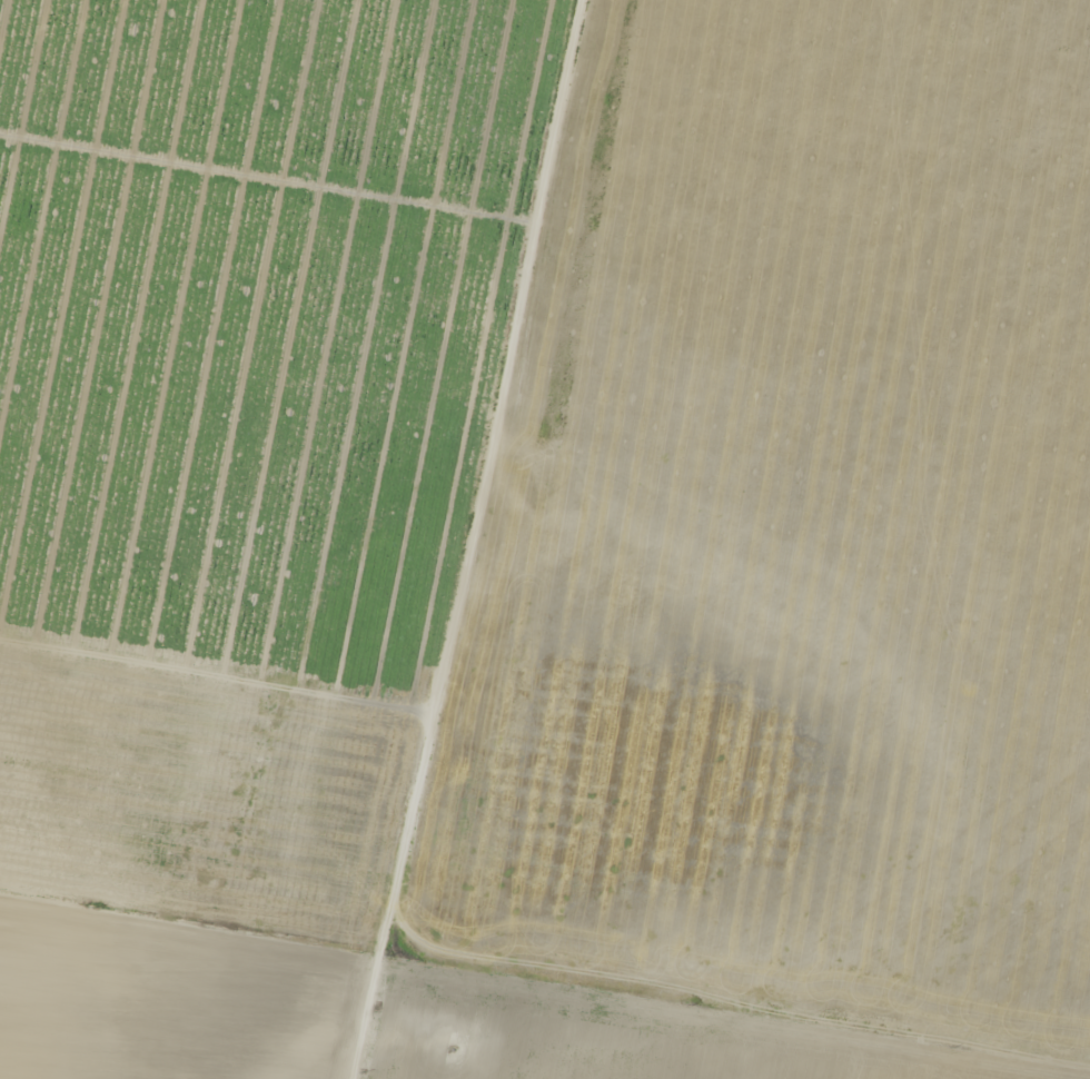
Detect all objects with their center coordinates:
road: (545, 982)

